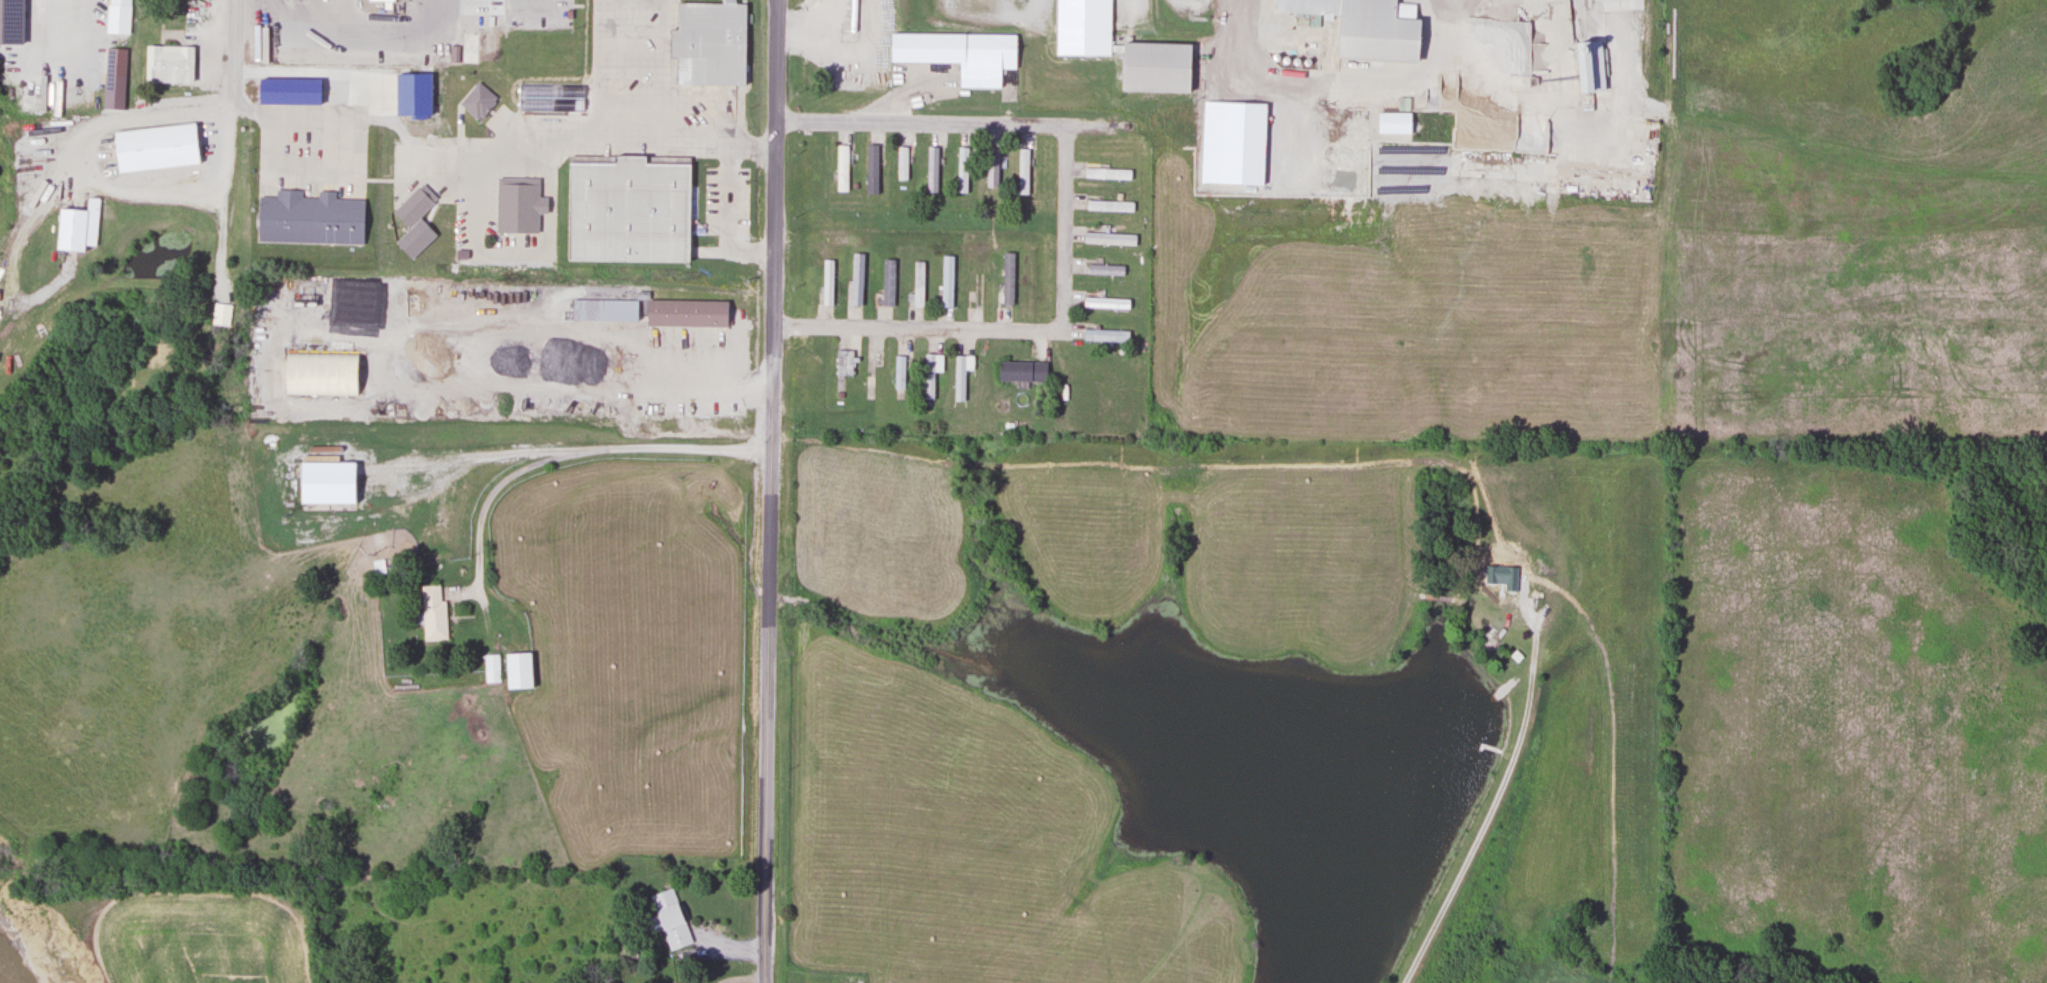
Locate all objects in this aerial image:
building: (381, 0)
building: (10, 9)
building: (116, 11)
building: (1082, 28)
building: (1362, 28)
building: (488, 42)
building: (708, 43)
building: (469, 48)
building: (958, 55)
building: (1587, 67)
building: (179, 68)
building: (1153, 69)
road: (344, 74)
road: (243, 89)
building: (300, 92)
building: (112, 93)
road: (920, 125)
building: (167, 148)
building: (901, 163)
building: (841, 168)
building: (931, 170)
building: (1022, 172)
building: (1107, 174)
building: (413, 206)
building: (525, 206)
building: (1109, 206)
building: (627, 209)
building: (320, 219)
building: (77, 227)
road: (1063, 227)
building: (1006, 278)
building: (917, 283)
building: (342, 299)
building: (1108, 303)
building: (603, 309)
building: (685, 312)
road: (915, 328)
building: (1105, 335)
building: (843, 362)
building: (1021, 370)
building: (899, 371)
building: (319, 373)
building: (930, 373)
building: (960, 374)
building: (380, 486)
road: (771, 491)
building: (432, 612)
building: (491, 667)
building: (517, 670)
building: (668, 918)
building: (689, 981)
river: (0, 982)

